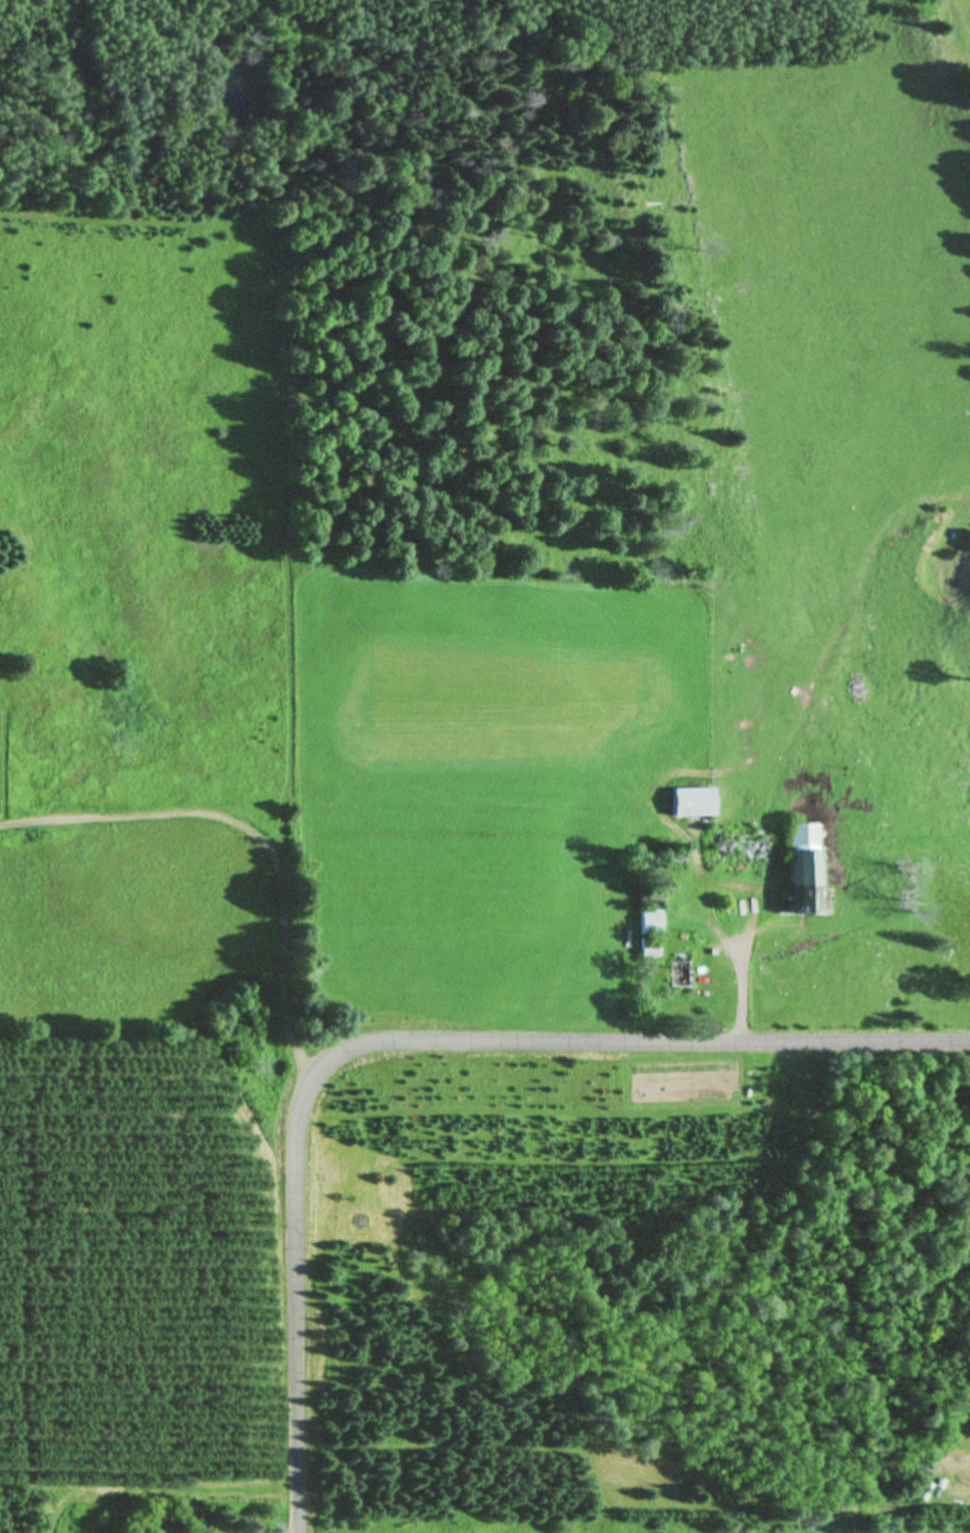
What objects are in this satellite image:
building: (694, 802)
building: (759, 852)
building: (805, 870)
building: (652, 898)
building: (652, 921)
building: (651, 949)
building: (682, 976)
road: (407, 1041)

